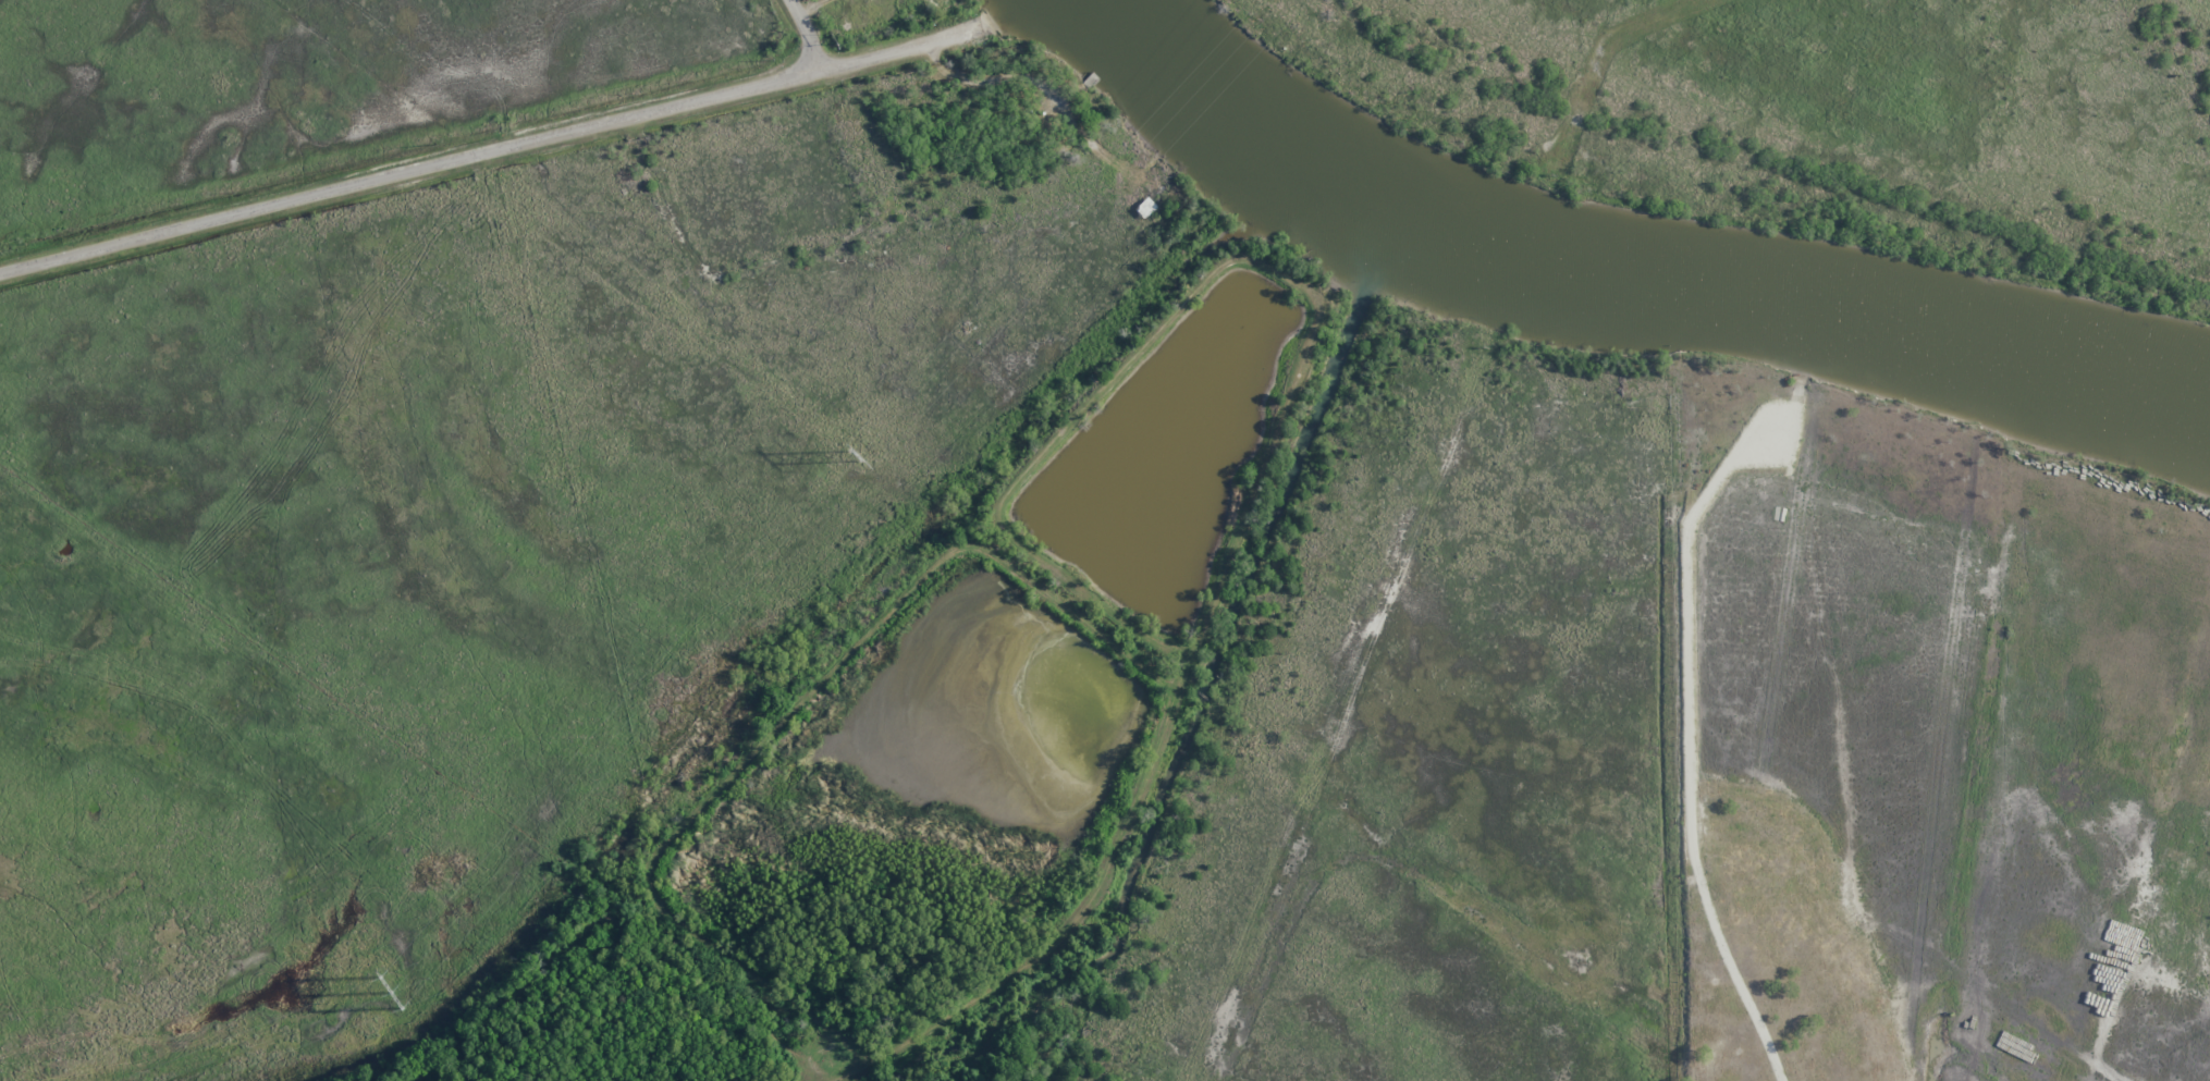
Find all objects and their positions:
building: (908, 5)
road: (803, 34)
road: (495, 148)
river: (1399, 211)
road: (1181, 303)
river: (1994, 367)
power tower: (855, 457)
road: (787, 716)
road: (1076, 917)
power tower: (388, 990)

